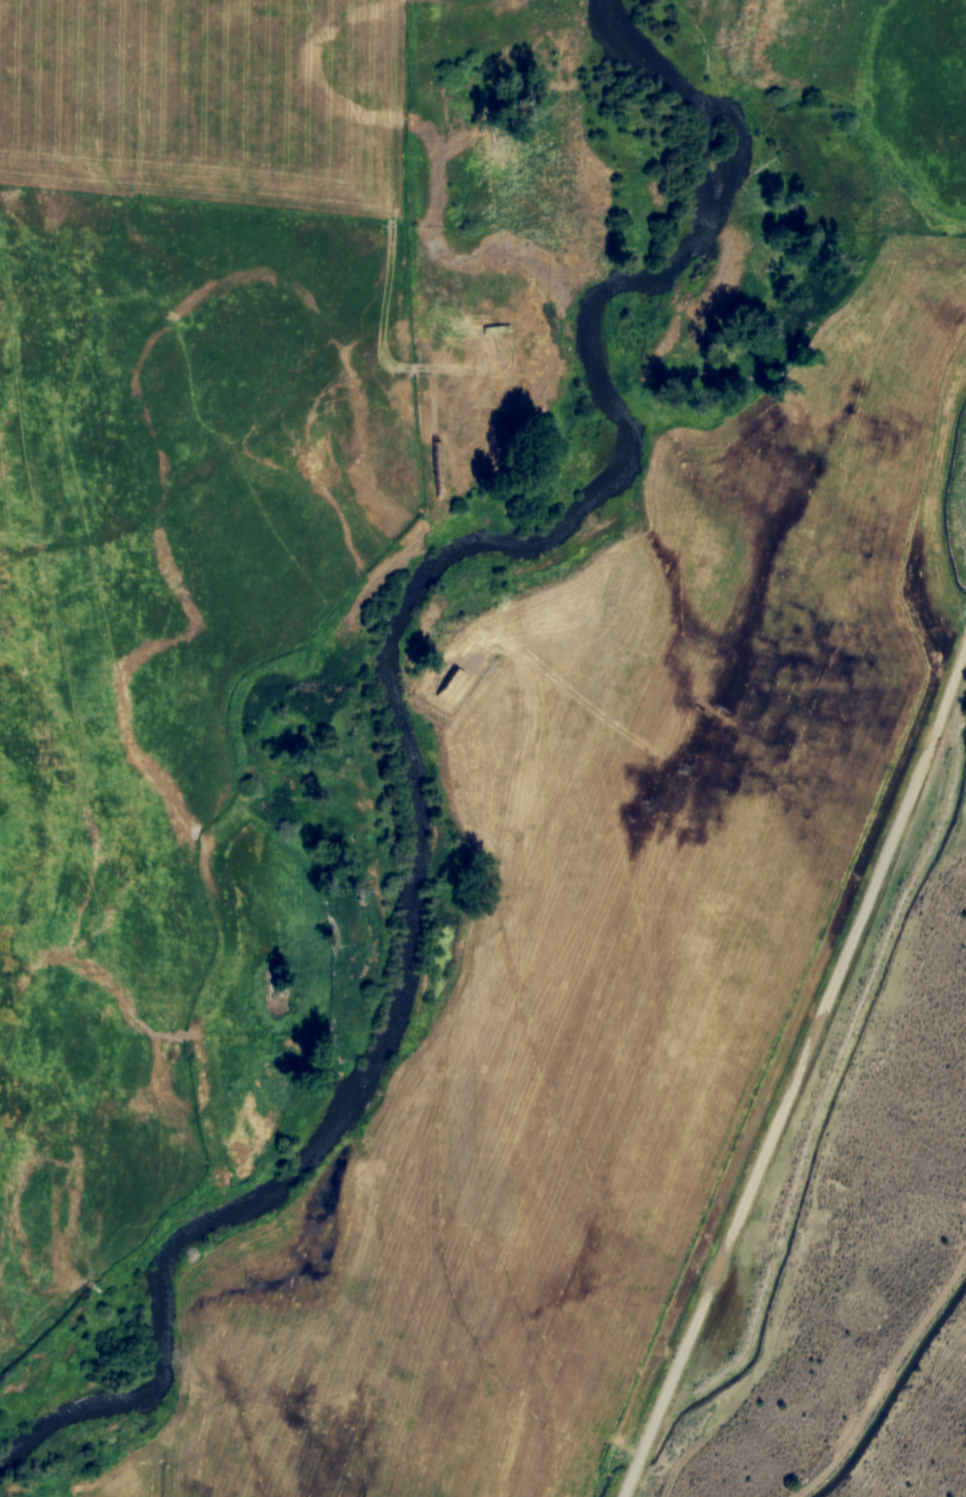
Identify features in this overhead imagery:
river: (404, 731)
road: (798, 1079)

